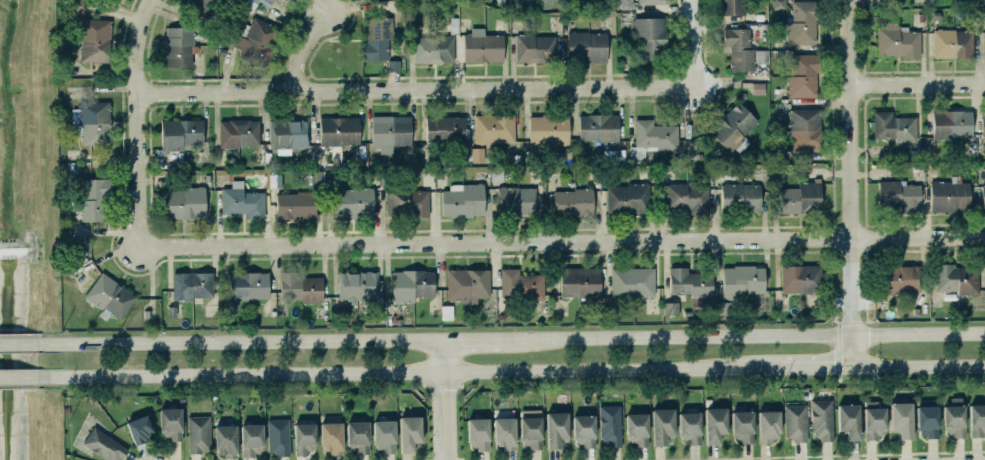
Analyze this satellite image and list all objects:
building: (283, 0)
building: (930, 0)
building: (543, 1)
building: (651, 2)
building: (257, 3)
building: (199, 4)
building: (625, 4)
building: (779, 4)
building: (76, 5)
building: (731, 7)
building: (802, 22)
building: (650, 37)
building: (376, 39)
building: (94, 40)
building: (256, 41)
building: (898, 41)
road: (693, 43)
building: (953, 43)
building: (584, 45)
building: (178, 46)
building: (483, 47)
road: (307, 48)
building: (535, 48)
building: (433, 49)
building: (742, 49)
building: (804, 75)
road: (918, 83)
road: (416, 88)
building: (757, 88)
building: (93, 121)
road: (139, 121)
building: (952, 123)
building: (983, 123)
building: (733, 126)
building: (597, 127)
building: (894, 127)
building: (388, 128)
building: (444, 128)
building: (494, 129)
building: (548, 129)
building: (338, 130)
building: (805, 130)
building: (178, 132)
building: (238, 132)
building: (288, 135)
building: (652, 137)
building: (477, 154)
building: (614, 154)
road: (864, 162)
road: (828, 173)
road: (868, 173)
building: (315, 179)
building: (275, 181)
road: (850, 182)
building: (899, 194)
building: (949, 194)
building: (739, 196)
building: (800, 196)
building: (983, 196)
building: (687, 197)
building: (94, 199)
building: (627, 199)
building: (241, 200)
building: (463, 200)
building: (514, 200)
road: (833, 201)
building: (183, 202)
building: (353, 202)
building: (407, 202)
building: (572, 202)
road: (764, 204)
building: (295, 205)
road: (775, 206)
road: (925, 213)
road: (976, 213)
road: (980, 213)
street lamp: (841, 215)
road: (794, 226)
road: (849, 226)
road: (865, 226)
road: (864, 237)
road: (835, 238)
road: (561, 241)
road: (849, 248)
road: (865, 249)
road: (890, 249)
road: (790, 251)
road: (984, 257)
road: (984, 262)
road: (778, 273)
road: (766, 274)
building: (800, 278)
building: (898, 278)
building: (957, 278)
building: (742, 280)
building: (578, 281)
building: (632, 281)
building: (690, 282)
building: (467, 283)
building: (247, 284)
building: (356, 284)
building: (410, 284)
building: (521, 284)
building: (192, 285)
building: (300, 286)
road: (834, 286)
building: (110, 295)
road: (830, 301)
road: (867, 304)
building: (670, 308)
building: (722, 308)
street lamp: (860, 310)
building: (446, 312)
traffic signals: (851, 331)
road: (746, 333)
road: (839, 333)
road: (476, 339)
road: (243, 341)
road: (21, 343)
road: (918, 365)
traffic signals: (851, 366)
road: (816, 367)
road: (410, 373)
street lamp: (871, 376)
road: (20, 378)
road: (444, 399)
building: (954, 417)
building: (822, 418)
building: (927, 418)
building: (901, 419)
building: (849, 420)
building: (874, 420)
building: (977, 420)
building: (795, 422)
building: (170, 423)
building: (715, 424)
building: (610, 425)
building: (662, 426)
building: (743, 426)
building: (768, 426)
building: (689, 427)
building: (531, 428)
building: (139, 429)
building: (556, 429)
building: (636, 429)
building: (584, 430)
building: (198, 433)
building: (409, 433)
building: (478, 433)
building: (504, 433)
building: (277, 436)
building: (358, 436)
building: (384, 436)
building: (331, 437)
building: (304, 438)
building: (251, 439)
building: (225, 440)
building: (105, 445)
road: (155, 451)
road: (795, 455)
road: (425, 459)
road: (427, 459)
road: (459, 459)
road: (462, 459)

